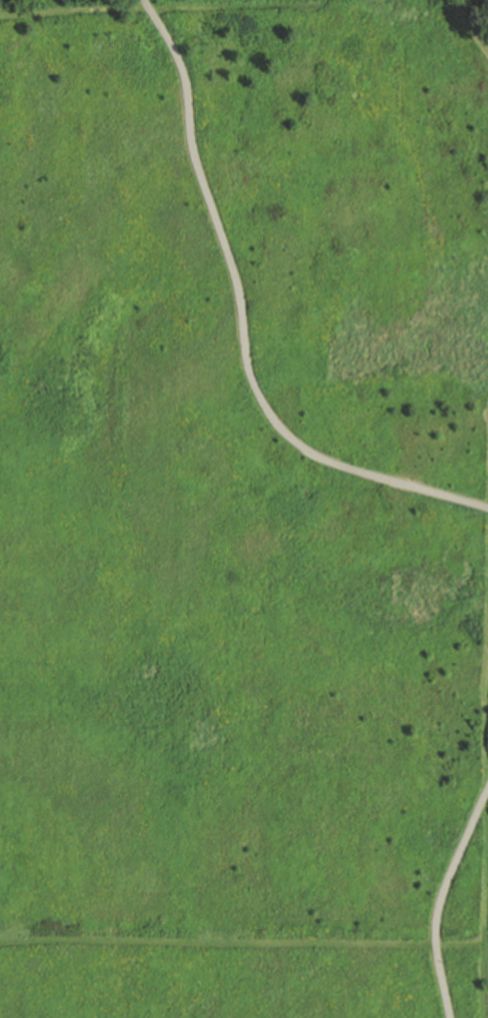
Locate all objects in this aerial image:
road: (162, 7)
road: (241, 323)
road: (487, 764)
road: (441, 901)
road: (241, 942)

